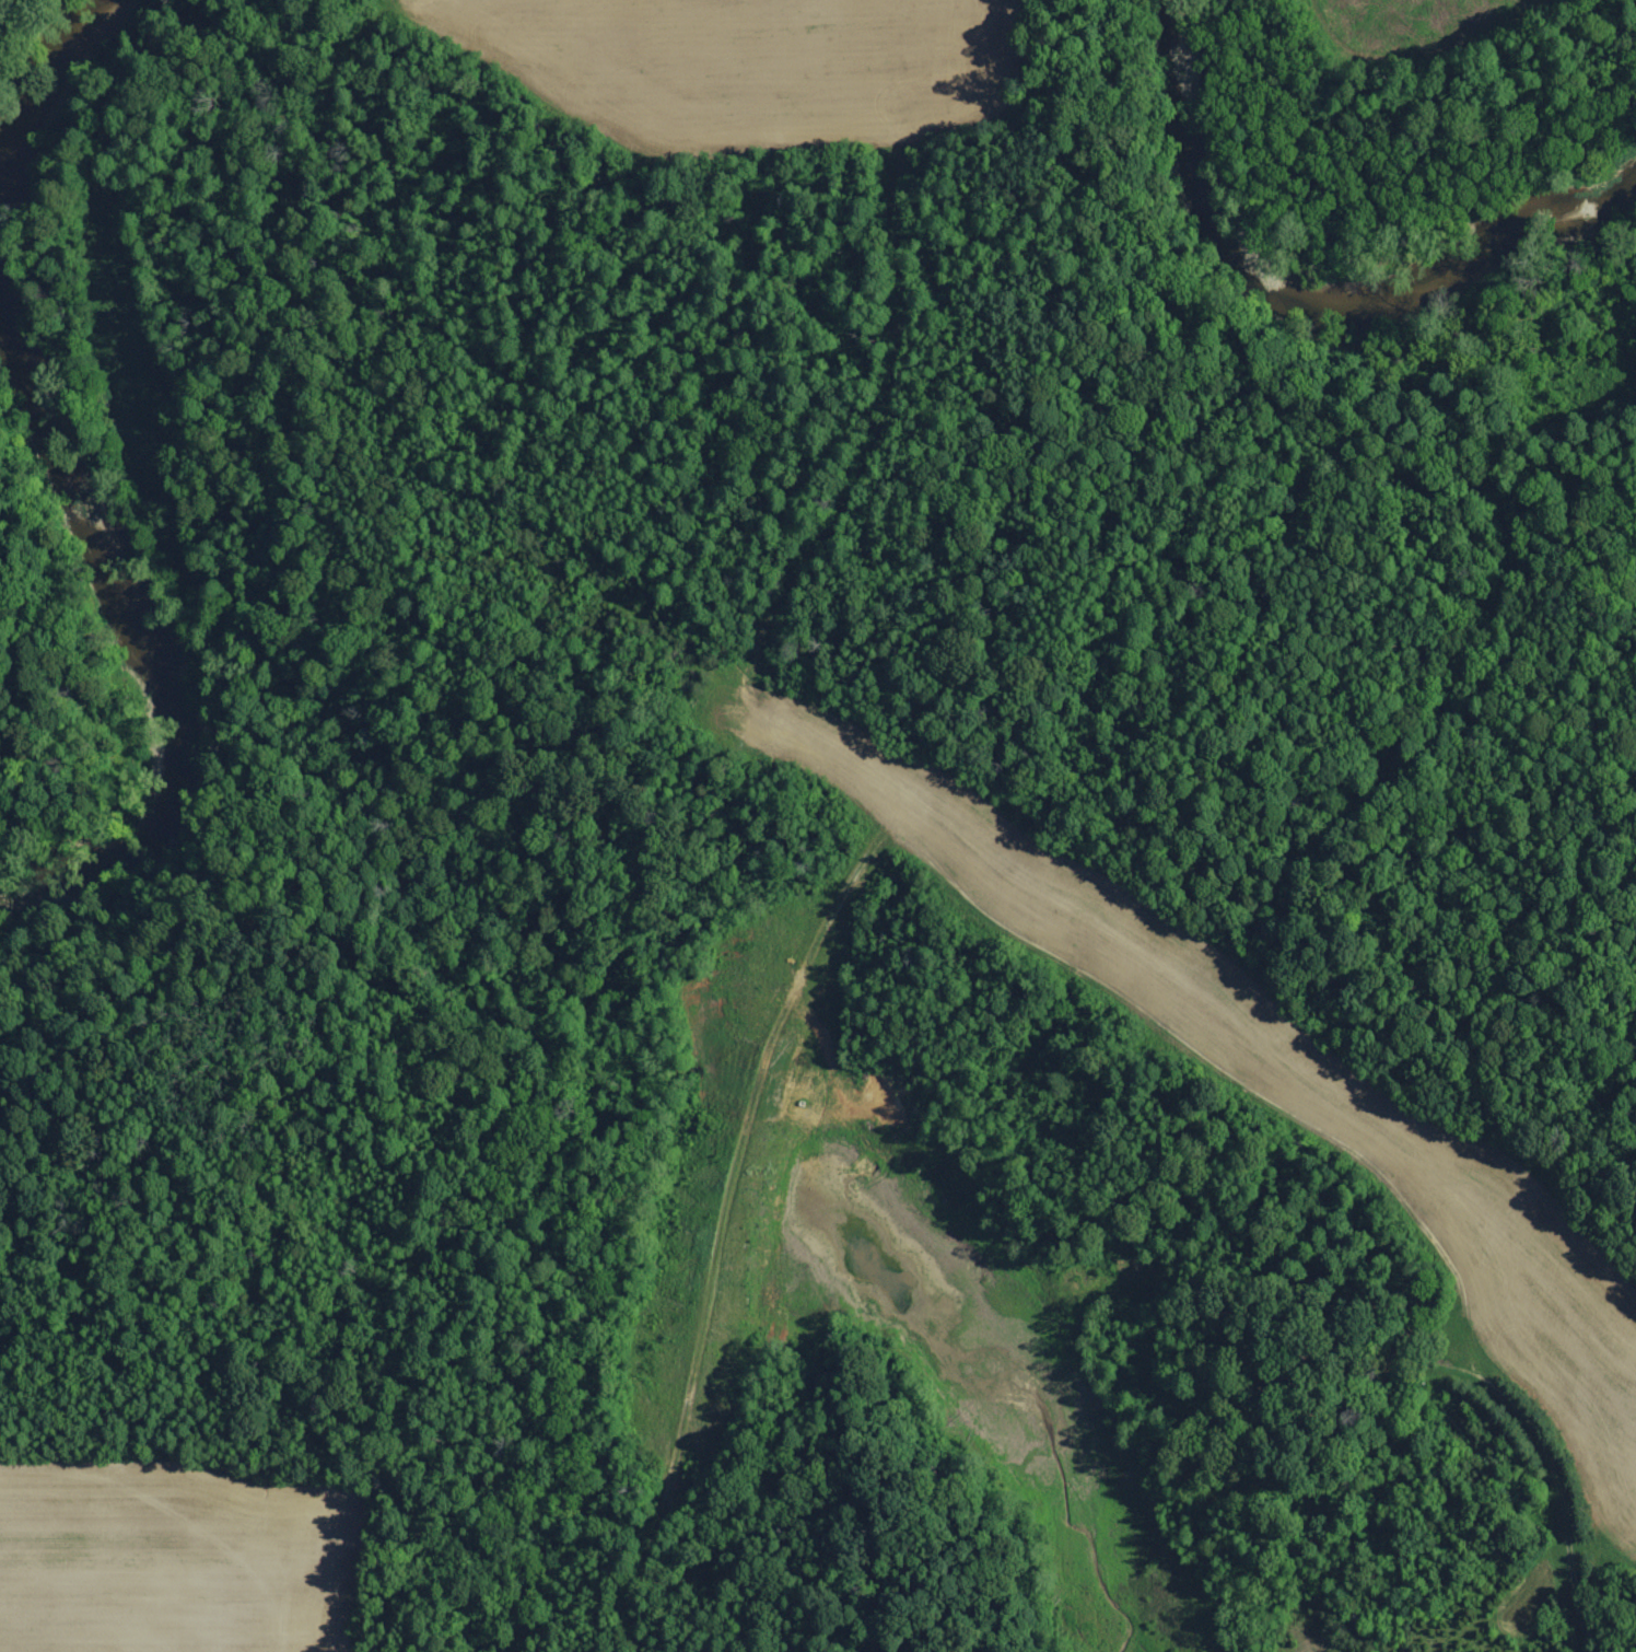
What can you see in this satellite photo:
road: (1540, 1443)

